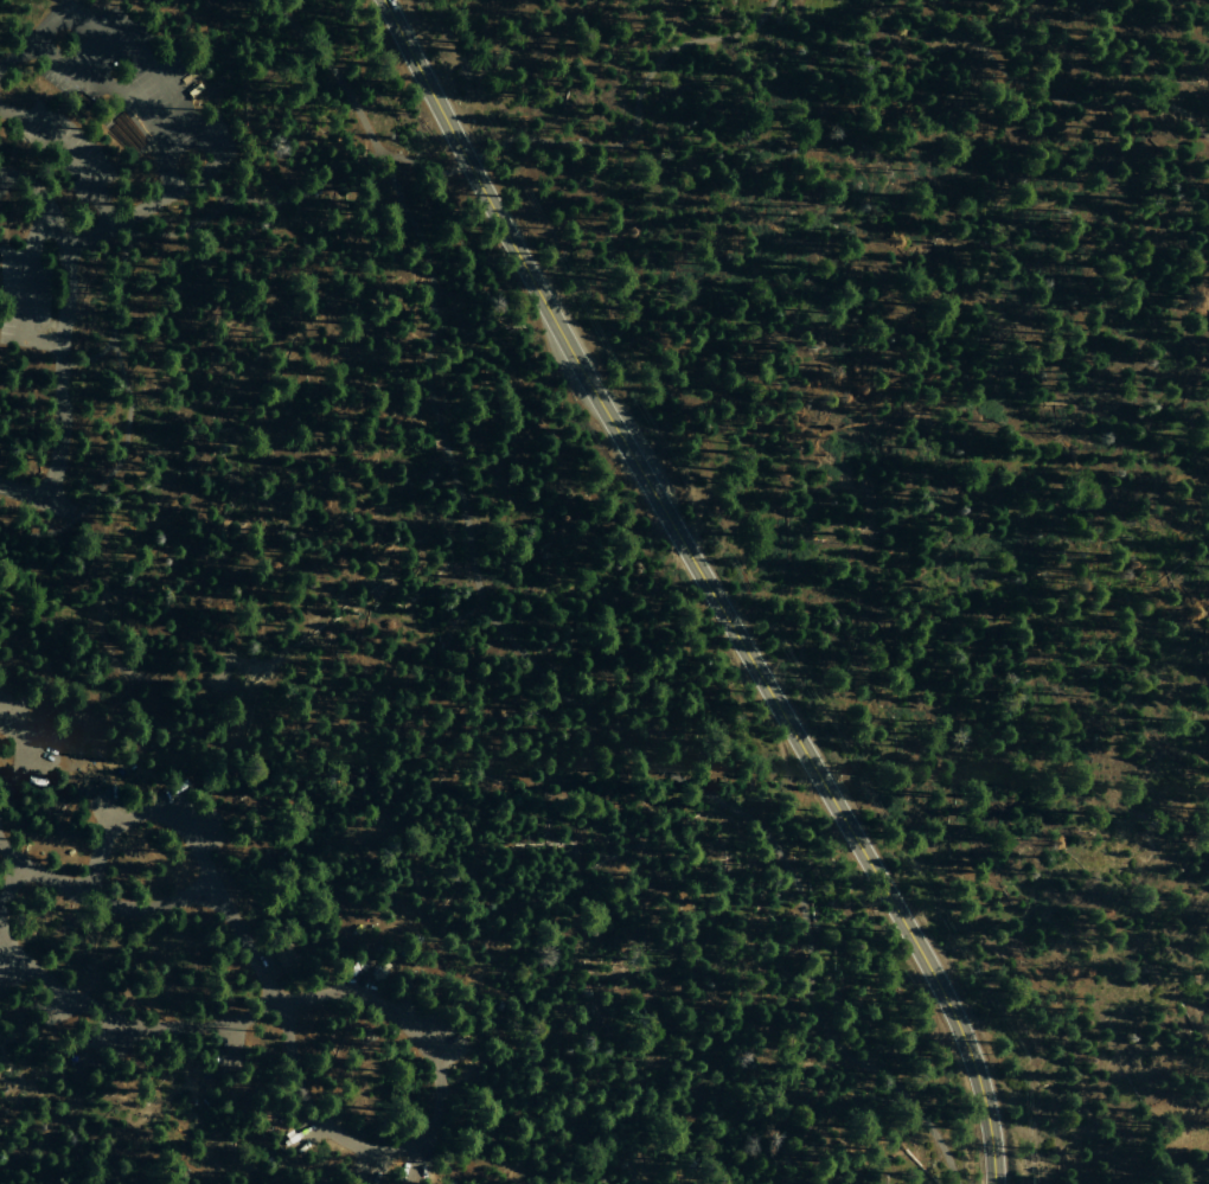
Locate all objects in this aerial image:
road: (1058, 90)
road: (147, 100)
road: (626, 110)
road: (66, 155)
road: (141, 255)
road: (59, 327)
road: (705, 585)
road: (524, 652)
road: (153, 680)
road: (433, 696)
road: (90, 792)
road: (96, 853)
road: (9, 881)
road: (165, 905)
building: (280, 958)
road: (132, 1026)
road: (427, 1124)
road: (94, 1133)

